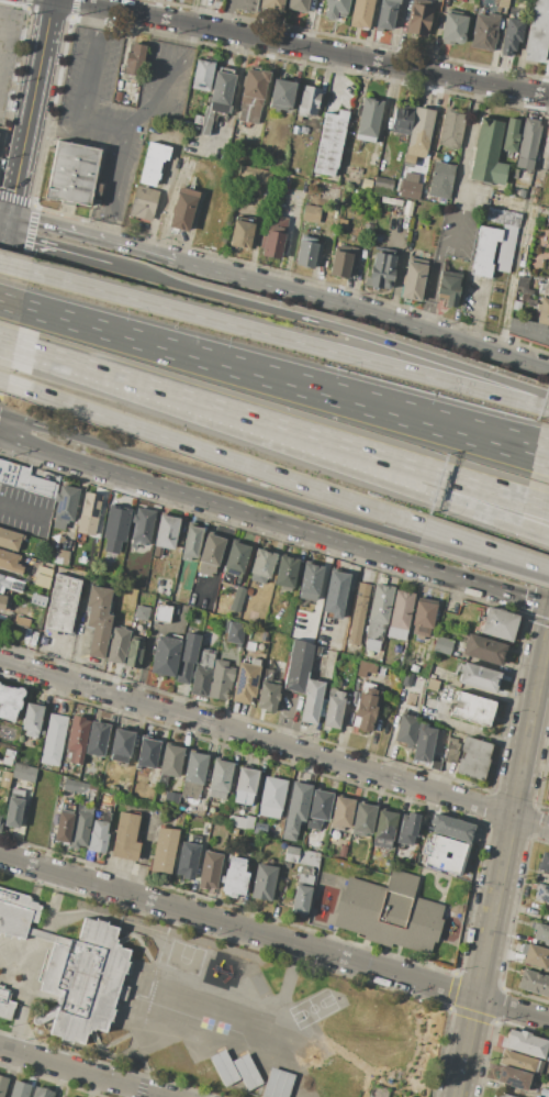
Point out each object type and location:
building: (503, 3)
building: (273, 4)
building: (298, 5)
building: (335, 9)
building: (360, 13)
building: (385, 14)
road: (224, 15)
building: (419, 18)
building: (452, 27)
road: (0, 30)
building: (485, 31)
road: (394, 32)
building: (537, 33)
building: (512, 36)
road: (309, 47)
building: (548, 57)
building: (133, 59)
road: (88, 63)
building: (202, 75)
road: (35, 79)
road: (168, 81)
road: (336, 81)
road: (234, 91)
building: (251, 95)
building: (281, 95)
building: (217, 100)
building: (307, 101)
parking lot: (114, 111)
building: (402, 120)
building: (368, 121)
road: (12, 124)
road: (52, 124)
road: (102, 124)
building: (547, 126)
building: (451, 129)
road: (469, 130)
building: (419, 131)
building: (508, 135)
building: (330, 144)
building: (526, 144)
building: (486, 153)
building: (153, 163)
building: (276, 165)
building: (72, 175)
building: (257, 176)
building: (440, 180)
road: (112, 185)
building: (382, 185)
building: (408, 185)
road: (12, 190)
road: (159, 198)
building: (143, 202)
building: (391, 202)
building: (548, 204)
building: (183, 210)
road: (461, 210)
building: (311, 213)
building: (503, 217)
road: (3, 222)
traffic signals: (7, 223)
road: (523, 224)
building: (240, 234)
road: (90, 236)
building: (273, 236)
road: (291, 241)
road: (3, 242)
building: (504, 248)
road: (63, 251)
building: (484, 252)
building: (306, 254)
building: (343, 261)
road: (18, 268)
building: (381, 272)
road: (432, 278)
building: (414, 279)
building: (448, 286)
building: (523, 286)
building: (545, 287)
road: (11, 302)
building: (544, 311)
road: (362, 312)
road: (477, 313)
road: (86, 324)
road: (337, 328)
building: (528, 331)
road: (290, 340)
road: (9, 342)
road: (8, 383)
road: (153, 387)
road: (345, 389)
road: (340, 400)
road: (547, 406)
road: (545, 440)
road: (219, 455)
road: (540, 461)
road: (405, 464)
road: (209, 477)
building: (23, 479)
road: (400, 487)
road: (536, 502)
building: (64, 507)
building: (89, 514)
road: (272, 521)
building: (142, 527)
building: (114, 529)
building: (167, 532)
road: (534, 532)
building: (10, 540)
building: (191, 543)
building: (65, 544)
road: (485, 544)
building: (210, 554)
building: (60, 556)
building: (236, 559)
road: (483, 559)
building: (10, 562)
building: (261, 565)
building: (285, 573)
building: (42, 576)
building: (4, 583)
building: (309, 584)
building: (18, 585)
building: (336, 588)
road: (320, 589)
building: (249, 592)
road: (347, 597)
building: (191, 598)
building: (238, 599)
building: (2, 601)
building: (40, 601)
building: (200, 601)
building: (61, 605)
building: (142, 613)
building: (163, 613)
building: (358, 613)
building: (254, 614)
building: (401, 614)
building: (378, 616)
building: (424, 618)
building: (21, 620)
building: (98, 621)
building: (498, 623)
building: (234, 632)
building: (27, 636)
building: (442, 644)
building: (119, 645)
building: (317, 650)
road: (146, 651)
building: (483, 651)
building: (135, 652)
building: (166, 654)
building: (188, 657)
building: (298, 665)
building: (365, 667)
building: (202, 673)
building: (397, 676)
building: (478, 678)
building: (221, 679)
building: (407, 679)
building: (245, 682)
building: (432, 684)
building: (267, 697)
building: (354, 697)
building: (311, 701)
building: (10, 702)
building: (471, 708)
building: (366, 710)
building: (334, 711)
building: (33, 720)
road: (285, 720)
road: (463, 728)
building: (406, 730)
building: (77, 739)
building: (97, 739)
building: (54, 741)
road: (274, 743)
building: (424, 744)
building: (122, 746)
building: (451, 751)
building: (8, 756)
building: (146, 756)
building: (473, 758)
building: (170, 763)
building: (436, 764)
building: (24, 773)
building: (0, 774)
building: (193, 775)
building: (5, 778)
building: (220, 779)
building: (137, 786)
building: (245, 786)
building: (78, 787)
building: (113, 788)
building: (548, 795)
building: (171, 797)
building: (271, 798)
building: (320, 808)
building: (211, 809)
building: (13, 812)
building: (341, 812)
building: (105, 816)
building: (1, 818)
building: (363, 820)
building: (240, 821)
building: (63, 825)
building: (81, 827)
building: (450, 828)
building: (407, 829)
building: (384, 830)
building: (234, 832)
building: (98, 836)
building: (125, 838)
building: (165, 850)
building: (341, 853)
building: (291, 854)
building: (444, 854)
building: (311, 857)
building: (188, 858)
road: (502, 862)
building: (544, 862)
building: (210, 869)
building: (235, 876)
building: (264, 882)
building: (541, 893)
building: (302, 894)
building: (390, 911)
building: (541, 933)
road: (274, 937)
building: (535, 956)
building: (70, 967)
building: (534, 983)
building: (4, 1004)
park: (313, 1009)
building: (45, 1016)
building: (525, 1043)
building: (548, 1057)
building: (519, 1061)
building: (223, 1070)
building: (246, 1071)
road: (81, 1072)
building: (514, 1078)
building: (278, 1084)
building: (2, 1085)
building: (20, 1089)
building: (43, 1093)
building: (503, 1095)
building: (59, 1096)
building: (63, 1096)
building: (548, 1096)

